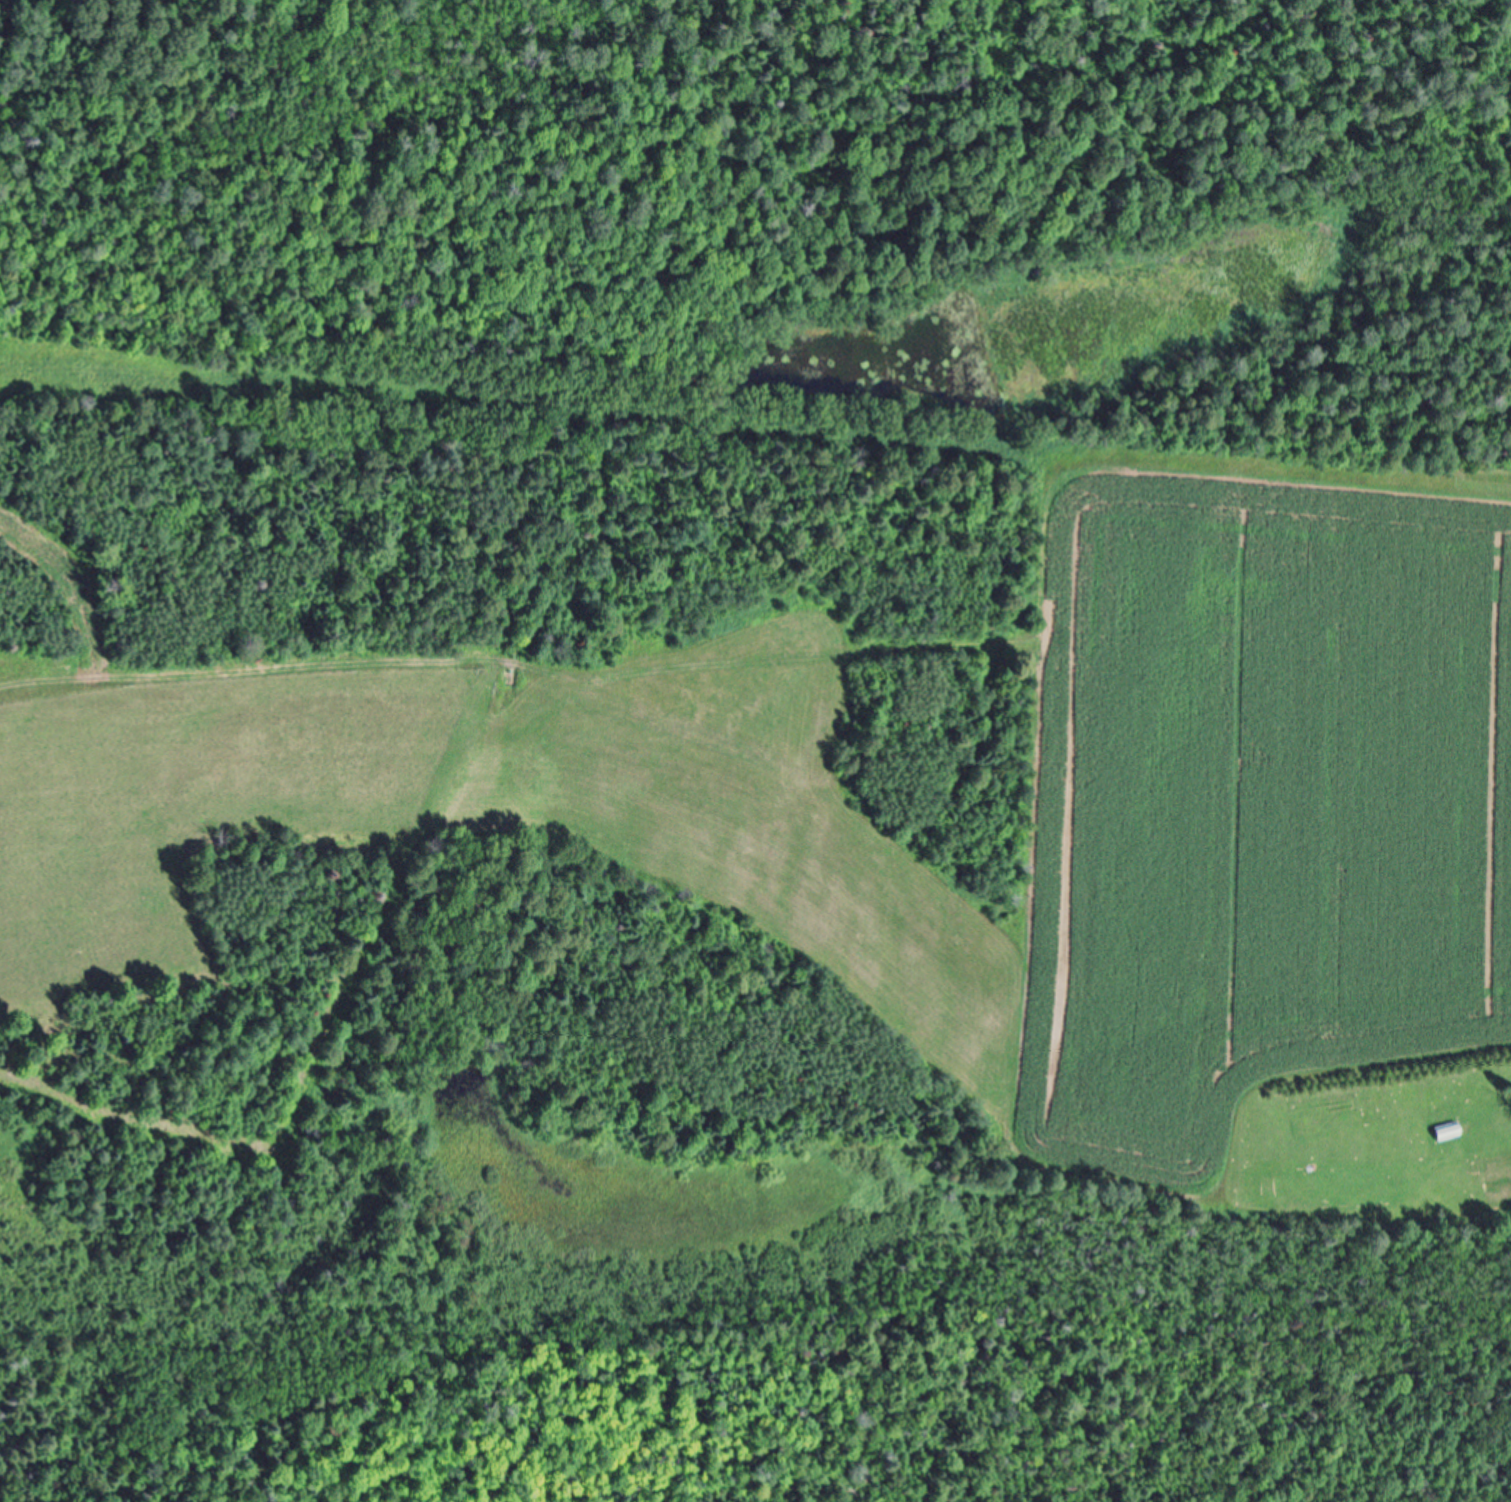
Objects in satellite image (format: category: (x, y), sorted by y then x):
building: (1446, 1134)

